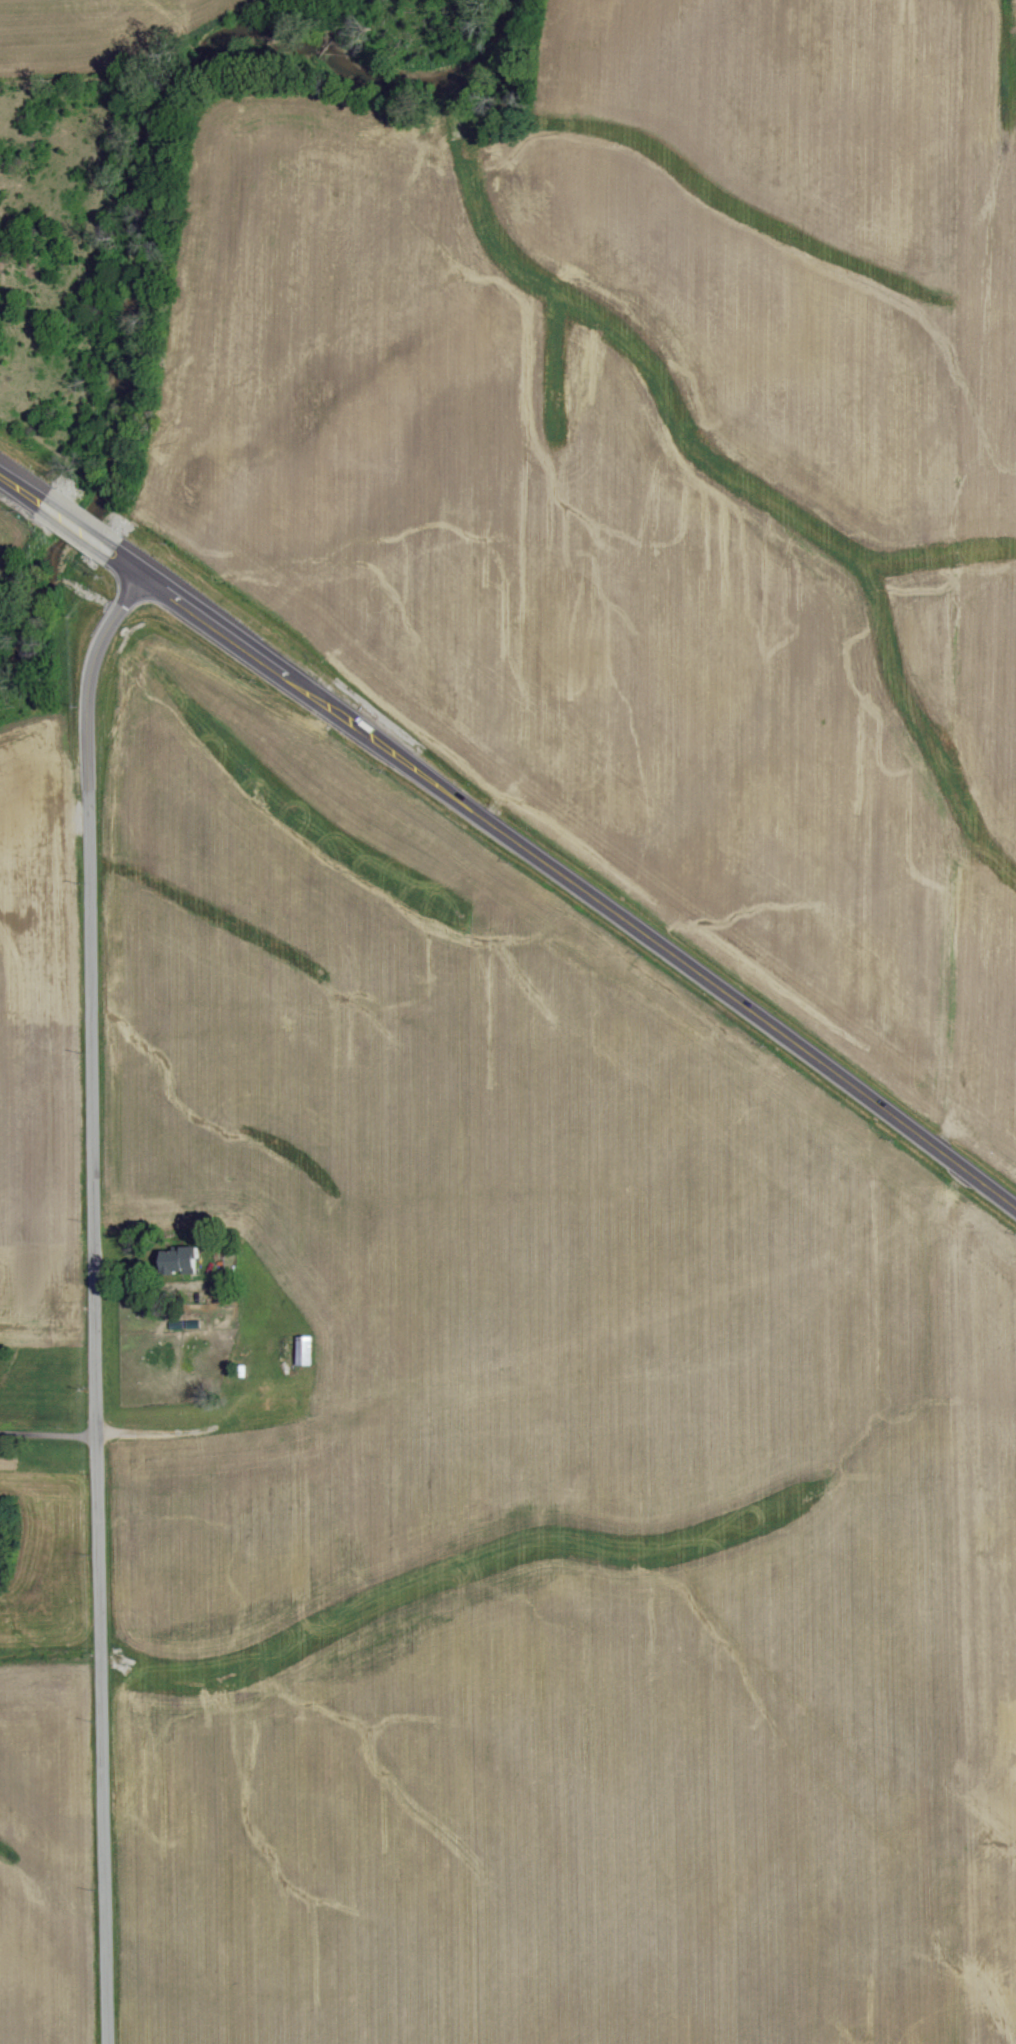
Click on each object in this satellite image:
road: (29, 497)
road: (77, 530)
road: (556, 873)
building: (183, 1260)
road: (95, 1298)
building: (307, 1350)
road: (48, 1434)

